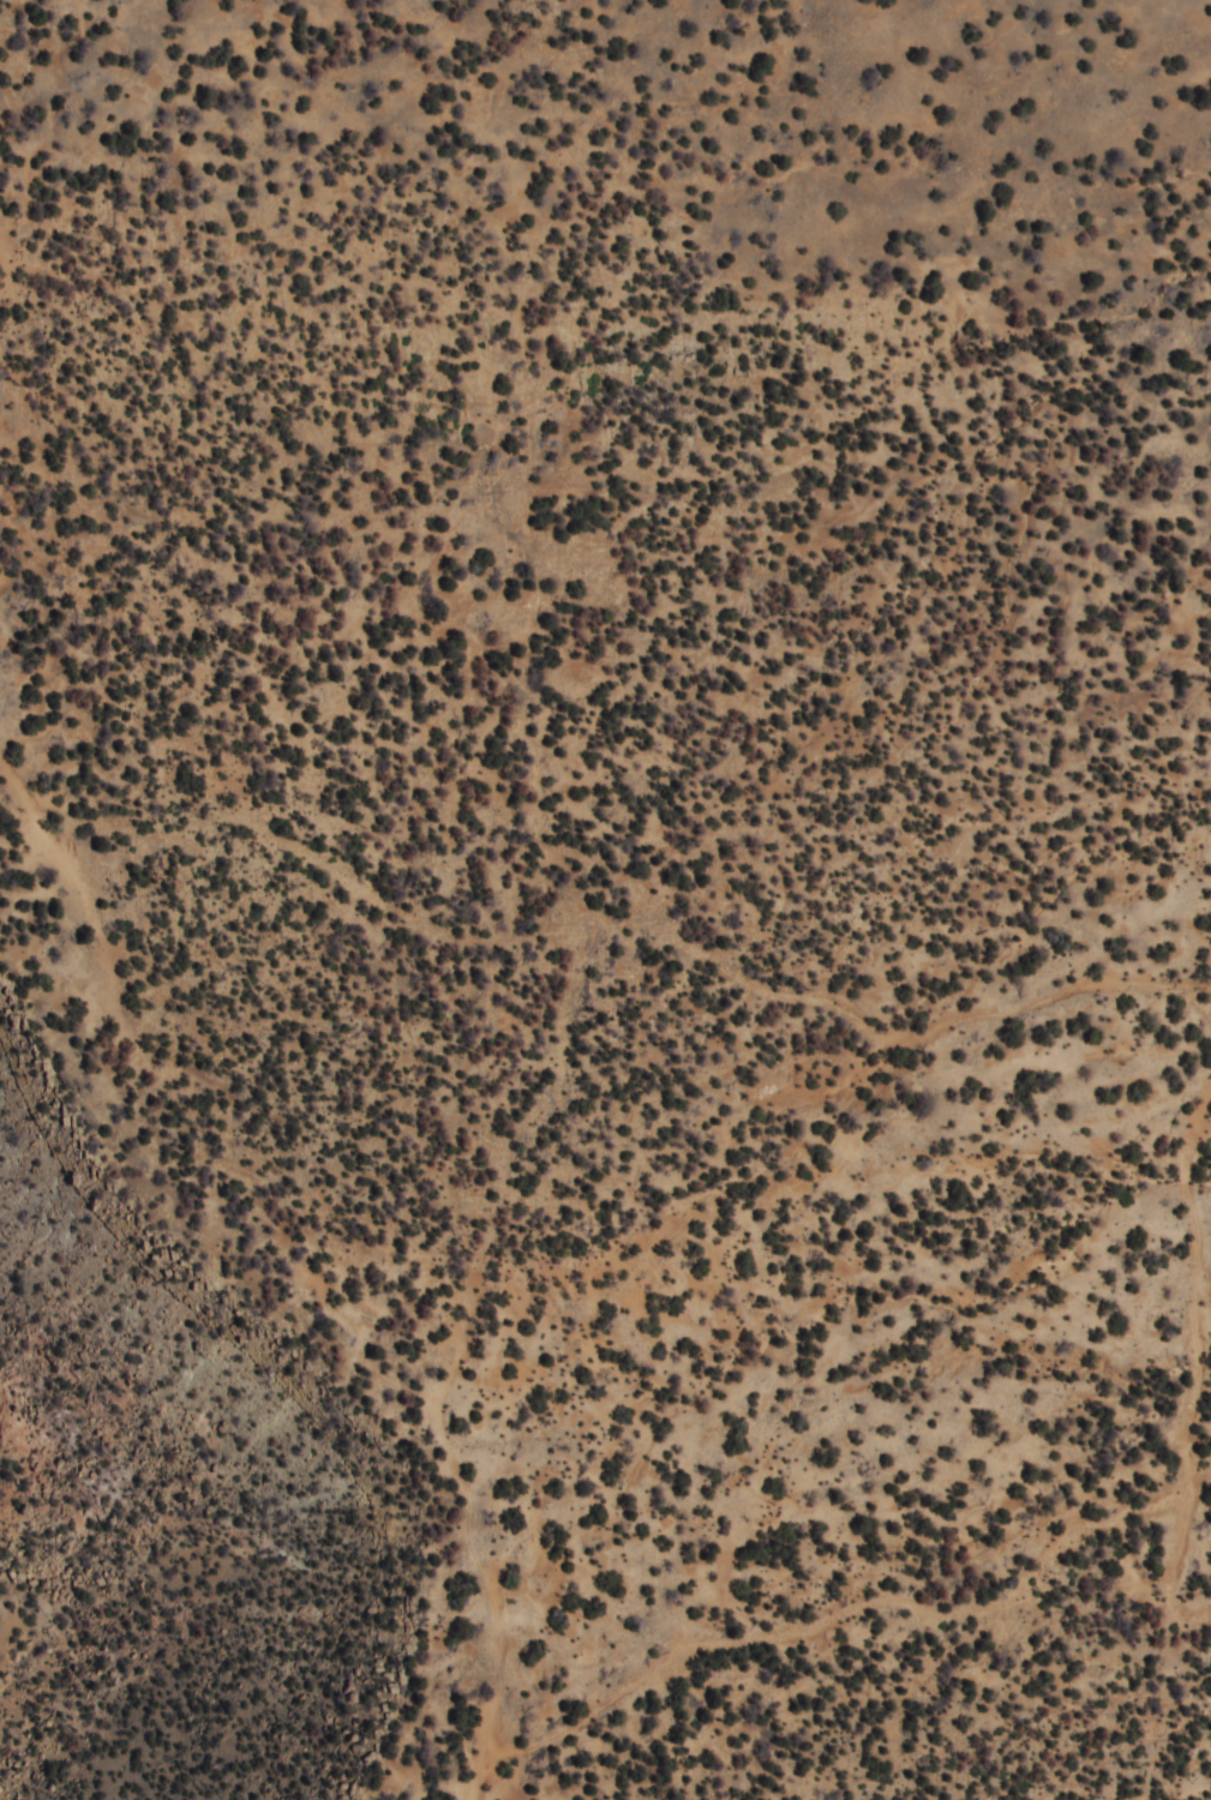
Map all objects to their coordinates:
road: (340, 1220)
road: (1199, 1693)

